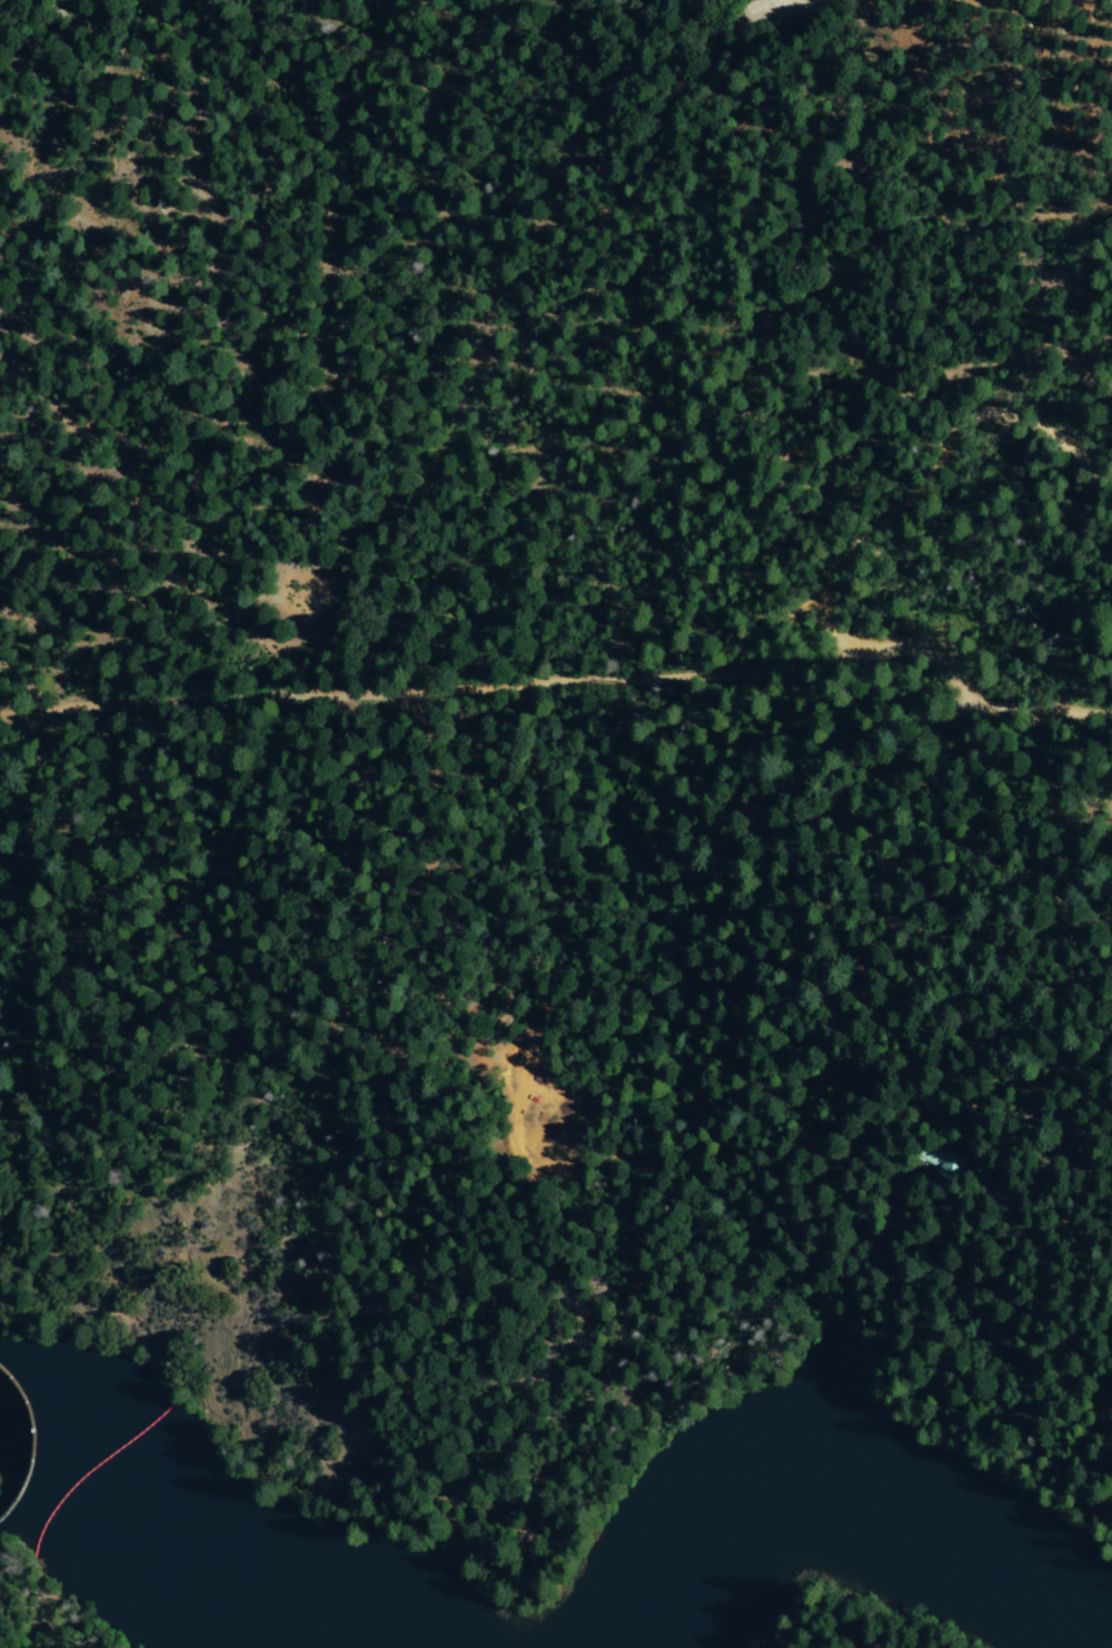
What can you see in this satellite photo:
road: (946, 446)
road: (954, 680)
road: (423, 689)
building: (930, 1103)
building: (943, 1162)
dam: (27, 1444)

